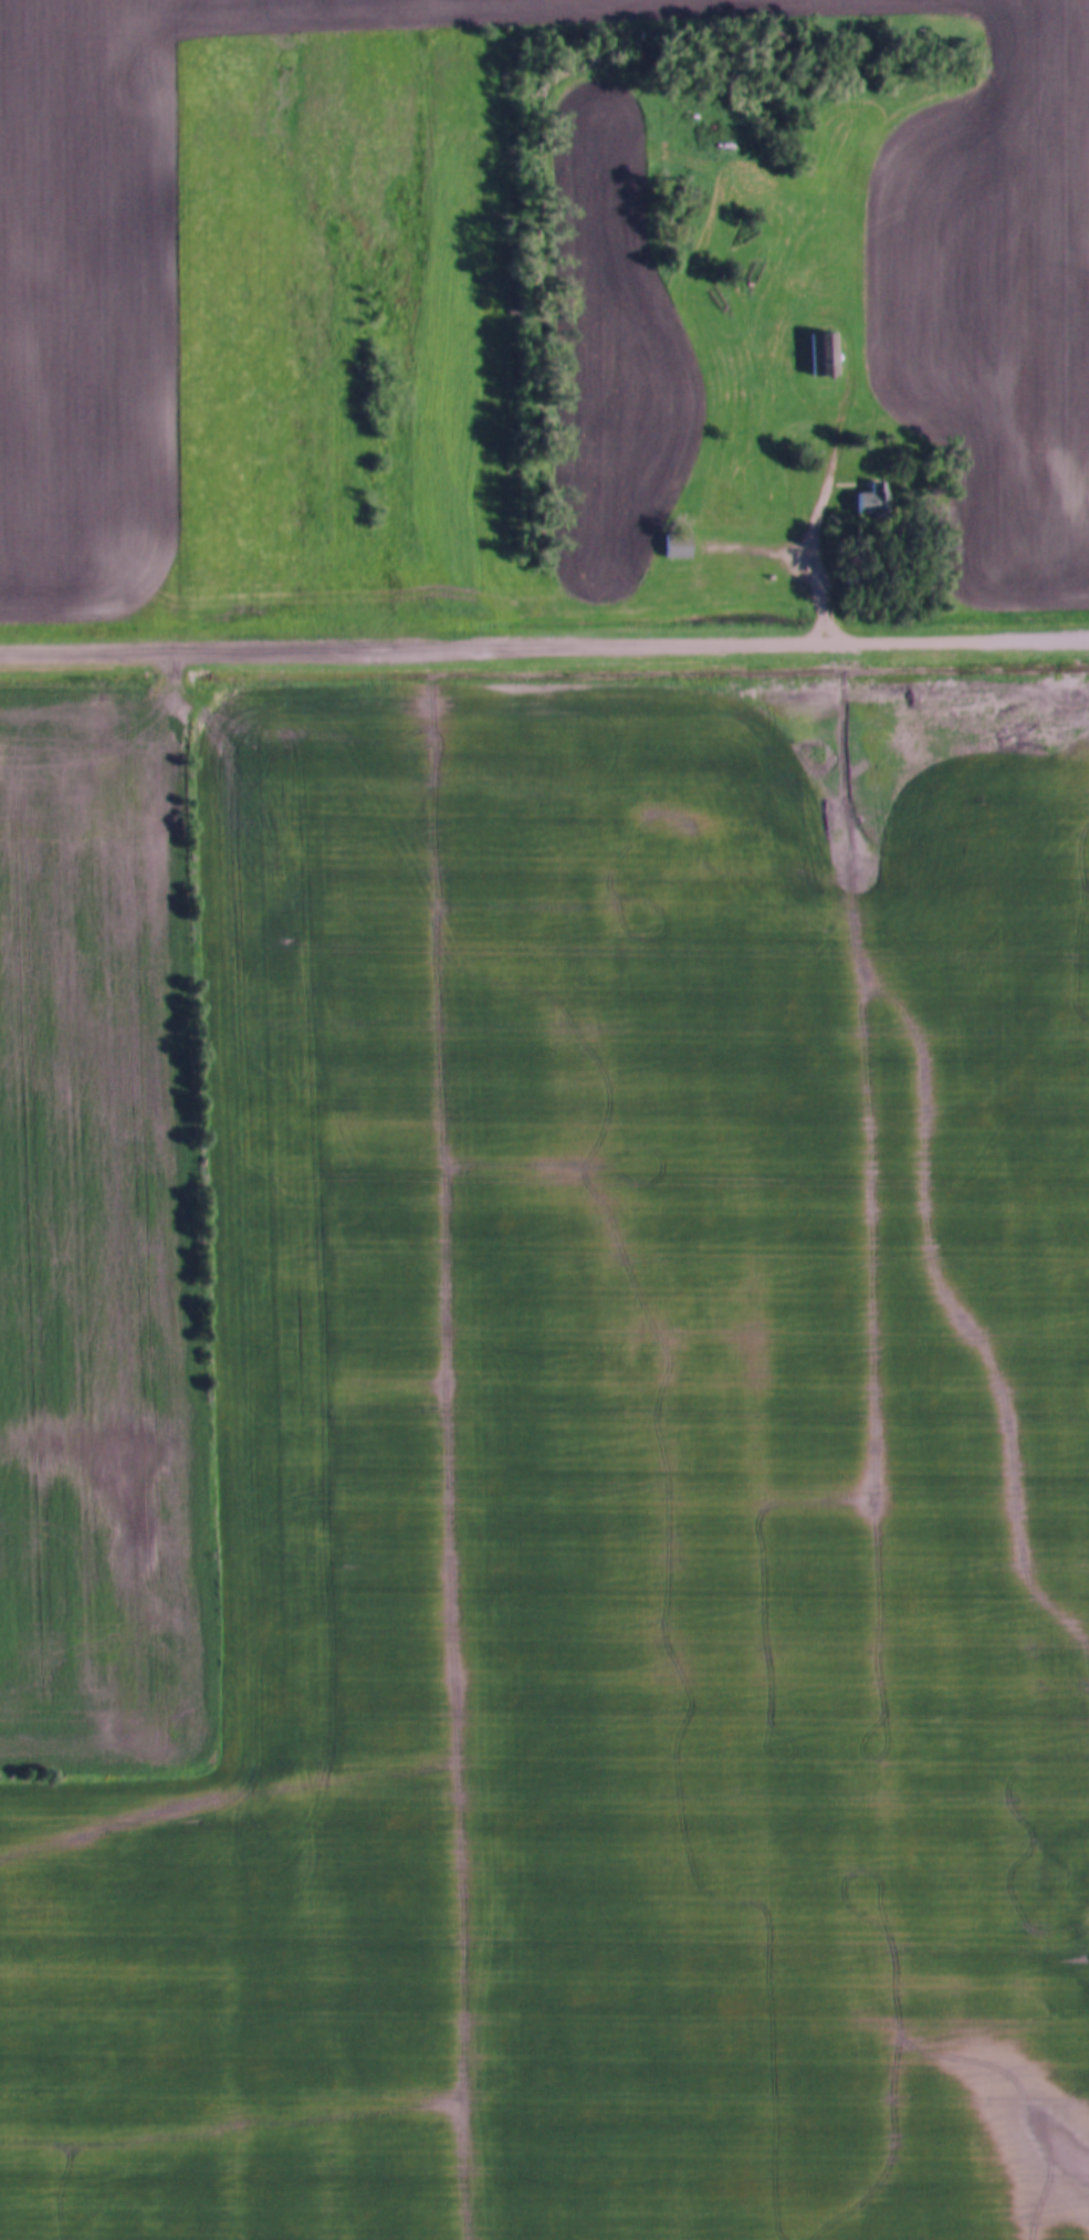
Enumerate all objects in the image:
road: (824, 522)
road: (960, 643)
road: (416, 653)

